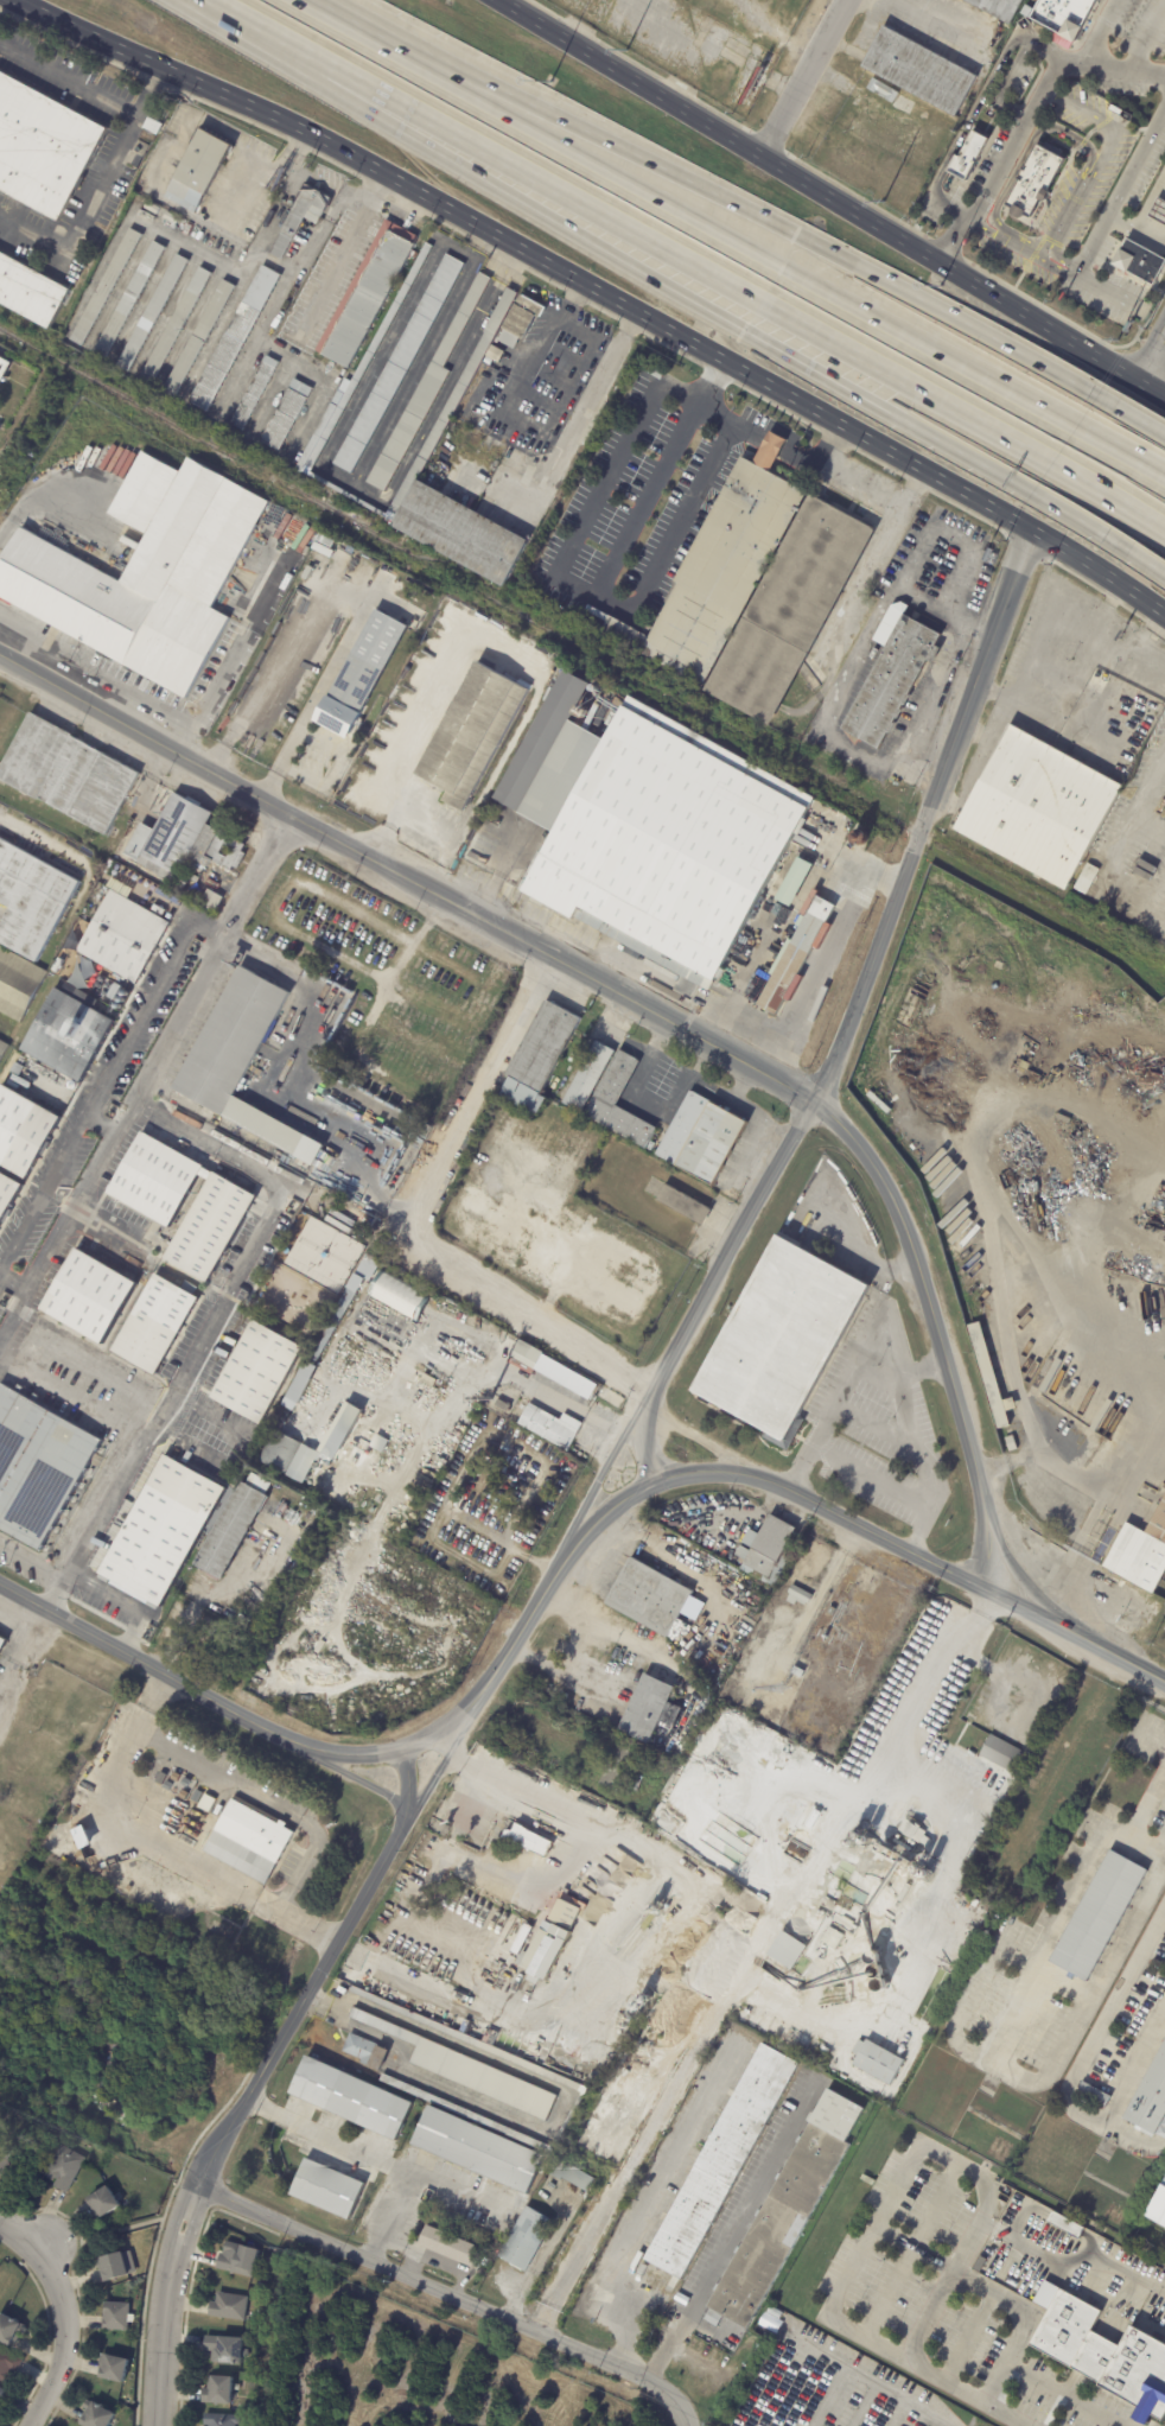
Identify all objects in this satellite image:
building: (998, 8)
road: (225, 15)
building: (1063, 15)
road: (374, 32)
road: (1146, 34)
road: (72, 44)
road: (294, 56)
road: (1012, 68)
road: (1122, 68)
building: (919, 71)
road: (68, 76)
road: (802, 80)
road: (157, 83)
building: (880, 90)
building: (1114, 110)
road: (227, 113)
building: (151, 122)
road: (1021, 125)
road: (965, 129)
building: (46, 139)
road: (299, 146)
road: (173, 147)
road: (292, 151)
building: (968, 157)
parking lot: (1067, 158)
road: (1097, 163)
road: (335, 165)
building: (199, 167)
road: (1017, 169)
road: (242, 182)
road: (327, 182)
building: (1032, 185)
road: (91, 189)
road: (378, 190)
road: (393, 196)
road: (828, 202)
building: (153, 208)
building: (1157, 212)
building: (172, 217)
building: (301, 217)
road: (1102, 222)
road: (447, 226)
road: (778, 226)
road: (488, 230)
road: (1140, 235)
building: (300, 240)
road: (1018, 247)
road: (497, 253)
road: (760, 254)
road: (1057, 256)
building: (1140, 262)
road: (337, 266)
road: (545, 279)
building: (108, 282)
building: (31, 292)
building: (365, 294)
road: (574, 296)
building: (132, 297)
road: (278, 299)
road: (753, 301)
building: (153, 310)
road: (601, 310)
building: (177, 322)
road: (727, 323)
road: (630, 326)
building: (200, 337)
building: (235, 338)
road: (671, 349)
road: (1151, 358)
building: (400, 362)
building: (4, 369)
building: (650, 373)
road: (715, 373)
building: (256, 390)
building: (426, 390)
road: (507, 405)
road: (774, 406)
building: (286, 414)
building: (460, 414)
road: (23, 418)
building: (477, 420)
road: (1140, 420)
building: (326, 430)
road: (835, 439)
road: (564, 443)
road: (797, 457)
road: (1129, 458)
road: (878, 463)
road: (915, 484)
road: (46, 491)
road: (881, 502)
road: (969, 513)
building: (325, 541)
road: (1025, 548)
road: (1063, 548)
building: (320, 550)
building: (349, 550)
building: (319, 558)
road: (1146, 563)
building: (300, 569)
building: (145, 571)
road: (1074, 574)
road: (355, 583)
building: (752, 588)
road: (1112, 598)
road: (919, 599)
road: (610, 601)
road: (884, 602)
road: (1132, 611)
road: (1154, 627)
road: (1114, 647)
road: (238, 648)
railway: (582, 650)
road: (95, 671)
building: (891, 675)
building: (356, 684)
road: (993, 691)
road: (924, 692)
road: (1010, 701)
building: (600, 712)
road: (973, 732)
building: (469, 733)
road: (401, 750)
building: (69, 774)
building: (892, 781)
building: (897, 782)
building: (1036, 807)
building: (648, 830)
building: (185, 840)
road: (1119, 852)
building: (121, 870)
building: (195, 877)
building: (1086, 878)
building: (144, 882)
building: (182, 885)
building: (139, 887)
building: (192, 897)
building: (31, 900)
building: (214, 900)
building: (775, 912)
building: (125, 935)
building: (802, 940)
road: (821, 959)
building: (18, 983)
road: (864, 987)
road: (637, 1011)
building: (69, 1033)
building: (2, 1048)
building: (545, 1056)
building: (242, 1061)
building: (591, 1077)
road: (144, 1078)
road: (279, 1078)
road: (106, 1081)
building: (617, 1082)
road: (476, 1092)
road: (100, 1124)
building: (23, 1130)
building: (708, 1139)
road: (256, 1173)
building: (516, 1174)
building: (528, 1179)
building: (7, 1193)
building: (685, 1205)
building: (221, 1211)
road: (857, 1249)
road: (12, 1281)
building: (402, 1283)
building: (397, 1291)
building: (356, 1293)
building: (91, 1296)
road: (518, 1302)
building: (383, 1321)
building: (157, 1323)
road: (887, 1336)
building: (776, 1338)
building: (529, 1353)
road: (191, 1361)
road: (919, 1371)
building: (260, 1372)
road: (488, 1374)
building: (988, 1379)
building: (432, 1380)
building: (299, 1390)
building: (507, 1406)
building: (520, 1409)
road: (211, 1417)
road: (876, 1424)
building: (552, 1425)
road: (149, 1437)
road: (190, 1444)
building: (1010, 1444)
building: (281, 1452)
road: (643, 1452)
building: (335, 1457)
road: (1050, 1460)
building: (306, 1465)
building: (38, 1466)
building: (345, 1473)
road: (867, 1480)
road: (605, 1481)
road: (603, 1509)
road: (1109, 1525)
building: (234, 1528)
building: (161, 1531)
building: (673, 1544)
road: (906, 1547)
building: (768, 1549)
building: (1140, 1554)
road: (33, 1558)
road: (198, 1596)
building: (797, 1596)
building: (652, 1598)
road: (115, 1602)
building: (765, 1615)
building: (1164, 1631)
building: (2, 1641)
road: (26, 1646)
road: (577, 1658)
building: (797, 1671)
road: (941, 1671)
road: (212, 1684)
road: (1164, 1684)
building: (647, 1708)
building: (862, 1733)
building: (1000, 1753)
building: (619, 1765)
road: (547, 1803)
road: (1145, 1804)
building: (1091, 1815)
building: (910, 1830)
building: (250, 1837)
building: (527, 1840)
building: (923, 1840)
road: (112, 1846)
building: (795, 1853)
road: (384, 1863)
building: (1099, 1916)
building: (829, 1938)
building: (550, 1943)
building: (517, 1948)
building: (784, 1950)
road: (1059, 1983)
road: (1012, 2003)
road: (1095, 2036)
building: (466, 2040)
road: (1141, 2044)
building: (356, 2047)
building: (375, 2058)
building: (877, 2062)
road: (982, 2062)
building: (466, 2070)
building: (1093, 2095)
building: (1148, 2097)
building: (351, 2098)
building: (460, 2113)
road: (552, 2125)
building: (1161, 2128)
building: (1129, 2130)
building: (478, 2149)
road: (916, 2152)
road: (375, 2155)
building: (5, 2159)
building: (720, 2164)
building: (66, 2167)
building: (569, 2176)
building: (327, 2189)
road: (458, 2191)
road: (648, 2202)
building: (106, 2203)
building: (1158, 2208)
building: (787, 2210)
building: (1067, 2225)
road: (730, 2236)
building: (524, 2238)
road: (34, 2242)
building: (446, 2247)
road: (910, 2249)
building: (242, 2257)
building: (116, 2266)
road: (1069, 2266)
building: (262, 2285)
road: (437, 2292)
road: (161, 2304)
building: (230, 2306)
building: (774, 2311)
building: (119, 2317)
road: (1029, 2317)
road: (61, 2320)
building: (11, 2329)
road: (966, 2332)
building: (229, 2348)
building: (1106, 2355)
building: (9, 2365)
building: (116, 2368)
road: (868, 2377)
road: (994, 2382)
road: (790, 2387)
building: (221, 2388)
road: (967, 2392)
building: (4, 2395)
road: (828, 2395)
road: (860, 2403)
building: (0, 2406)
road: (897, 2412)
building: (101, 2415)
road: (679, 2415)
building: (224, 2419)

